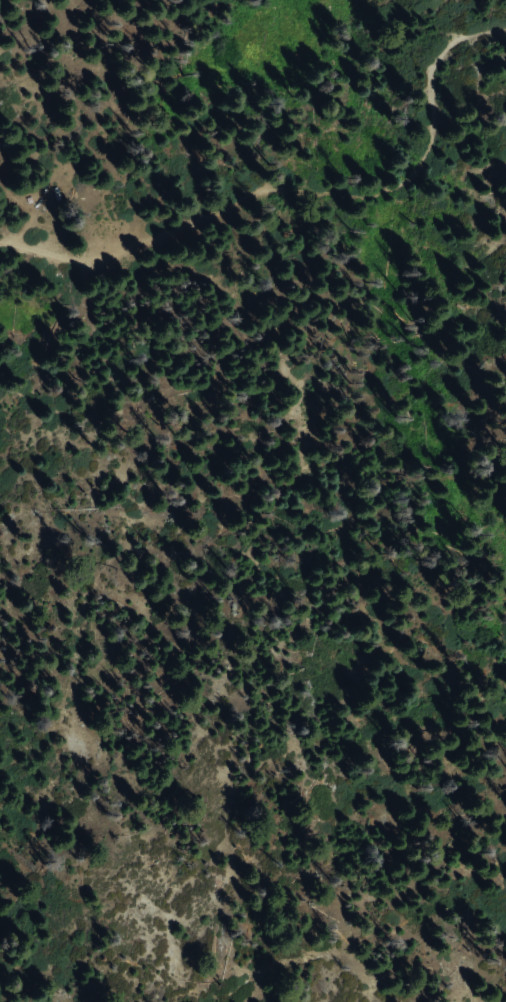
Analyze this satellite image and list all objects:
road: (299, 195)

